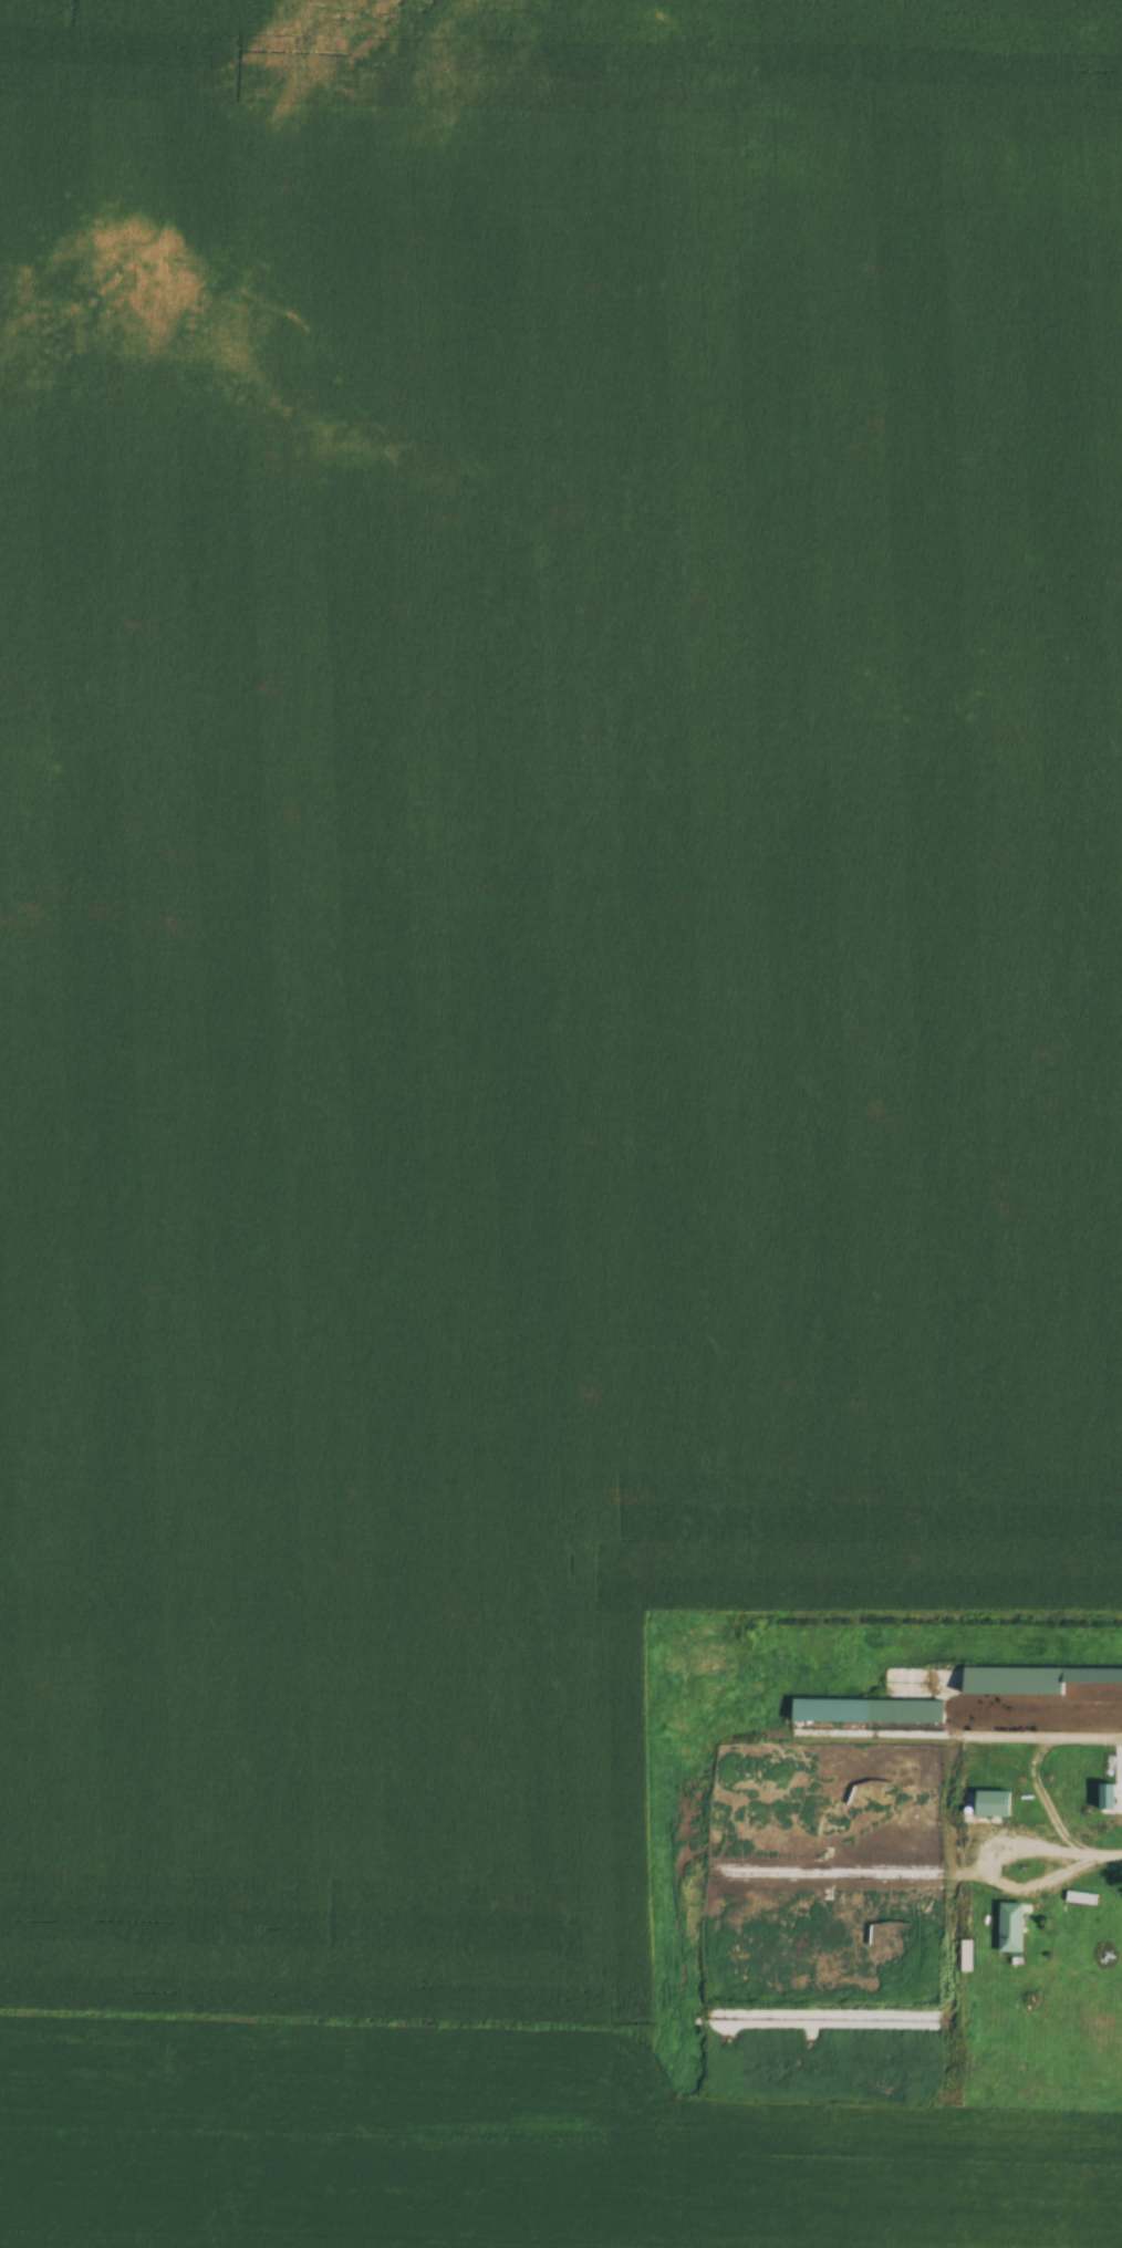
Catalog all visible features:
building: (1016, 1683)
building: (944, 1685)
building: (866, 1713)
building: (991, 1804)
road: (1098, 1852)
road: (994, 1875)
building: (938, 1923)
building: (1010, 1928)
building: (728, 2020)

